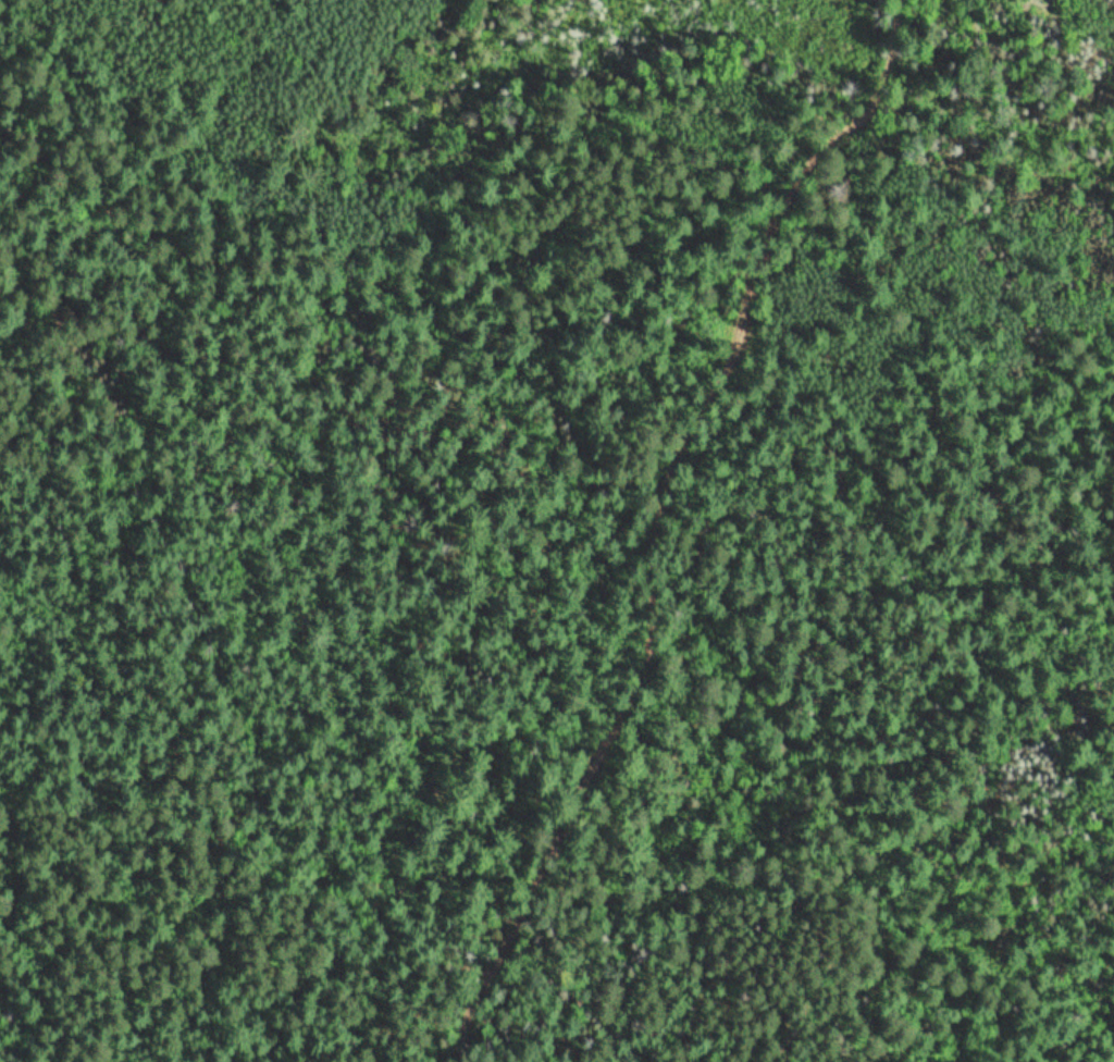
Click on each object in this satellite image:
road: (688, 538)

